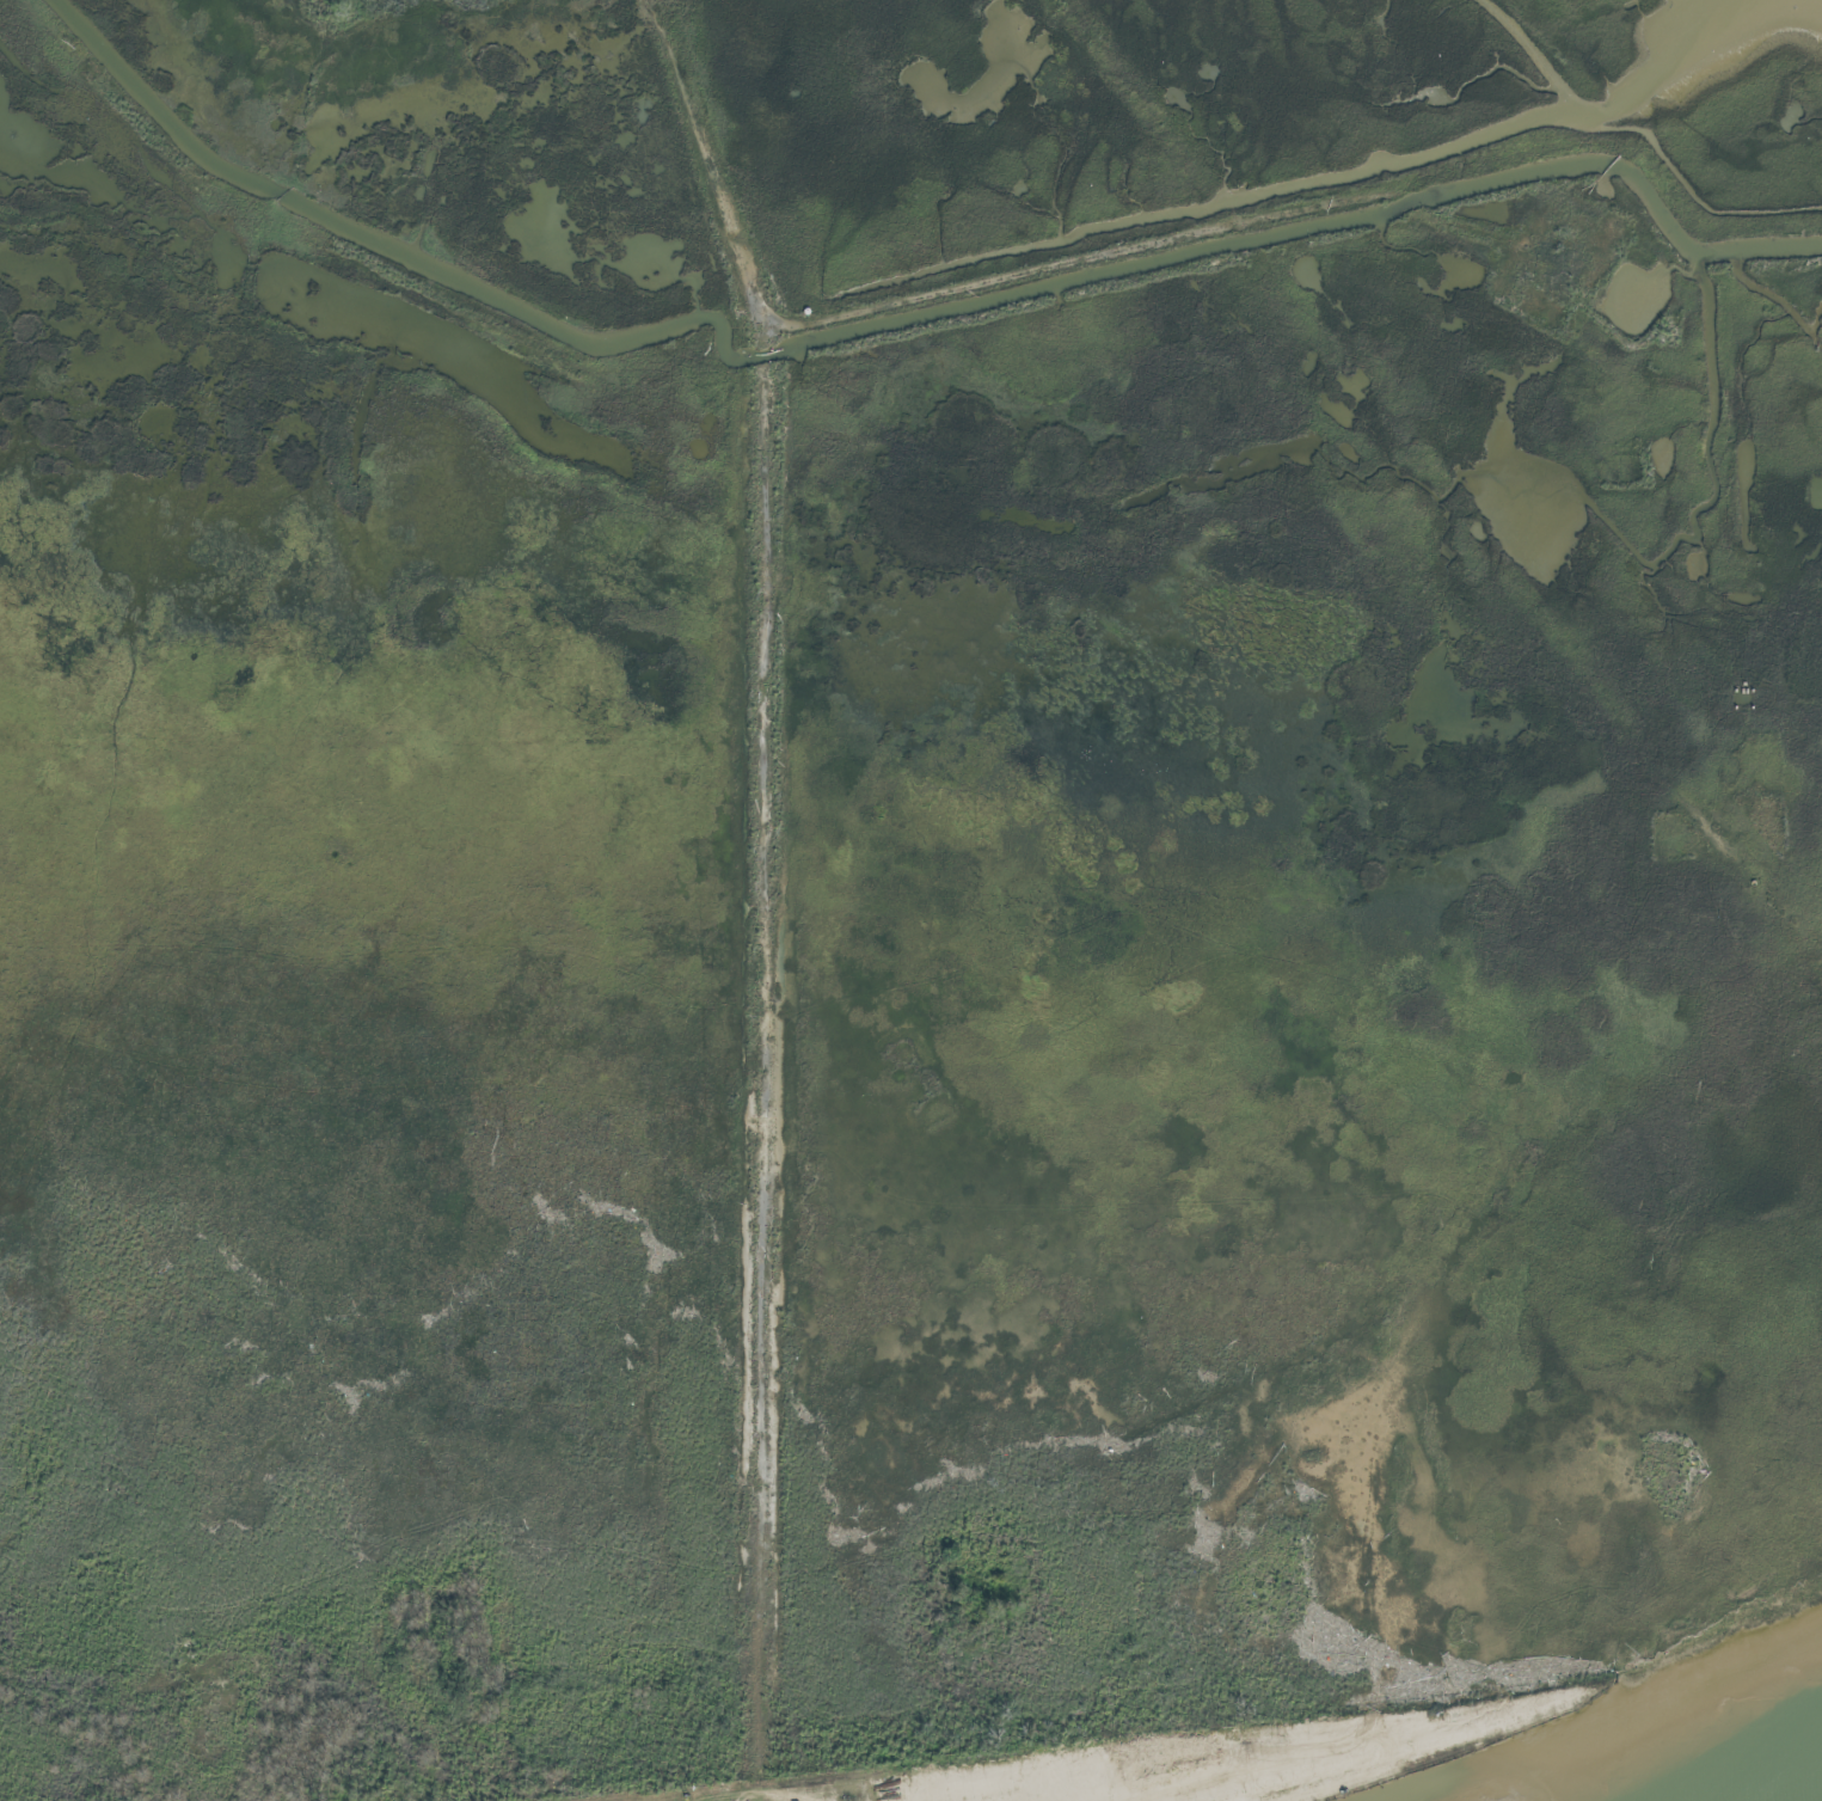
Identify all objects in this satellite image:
road: (1072, 270)
road: (768, 893)

